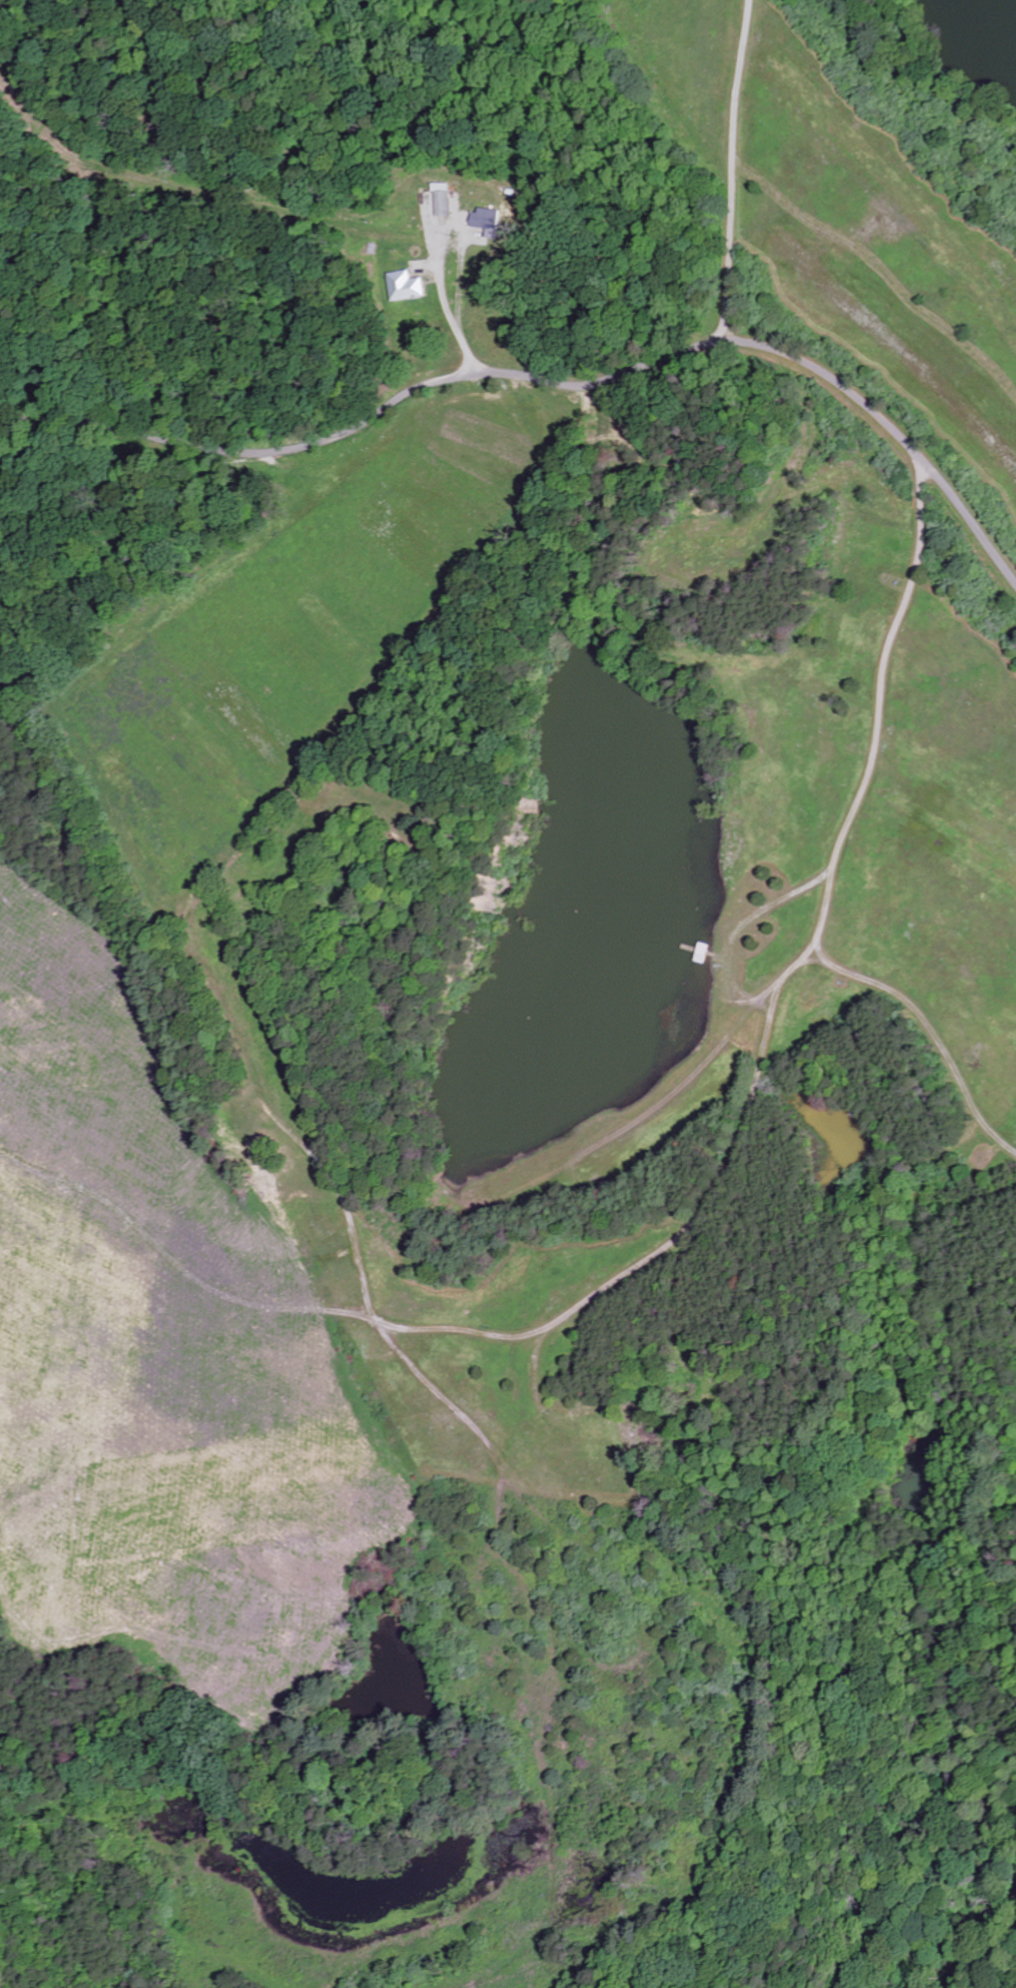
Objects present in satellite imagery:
road: (742, 130)
building: (440, 201)
building: (484, 223)
building: (401, 287)
road: (727, 301)
road: (461, 335)
road: (368, 421)
road: (893, 430)
road: (835, 846)
road: (492, 1332)

